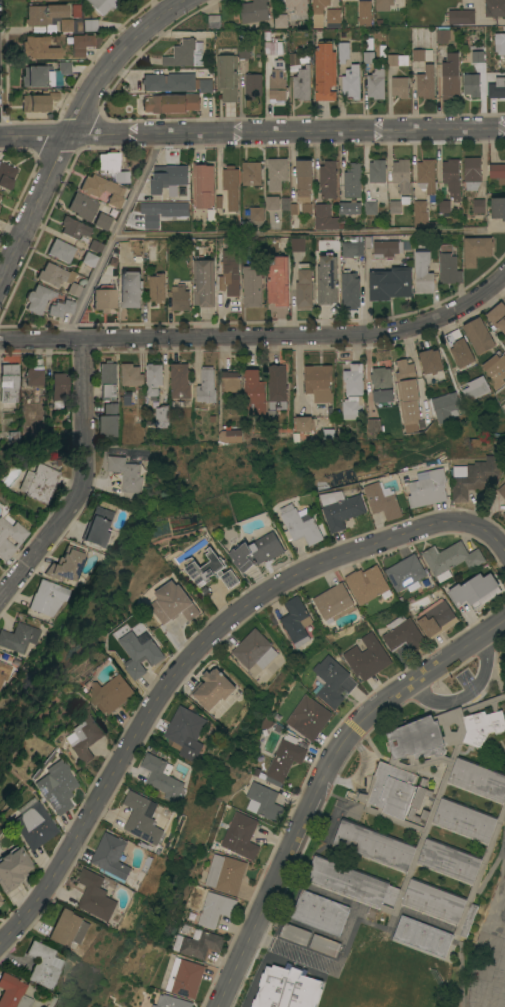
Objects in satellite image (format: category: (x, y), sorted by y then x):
building: (100, 4)
building: (382, 5)
building: (296, 6)
building: (494, 7)
building: (253, 10)
building: (74, 11)
building: (318, 11)
building: (363, 12)
building: (43, 13)
building: (279, 14)
building: (461, 16)
building: (333, 17)
building: (213, 20)
building: (89, 24)
building: (64, 25)
building: (445, 35)
building: (499, 42)
building: (79, 43)
building: (273, 46)
building: (38, 47)
building: (244, 50)
building: (342, 51)
building: (185, 54)
building: (421, 55)
building: (367, 56)
building: (476, 56)
building: (293, 58)
building: (391, 61)
building: (62, 68)
building: (324, 71)
building: (35, 75)
building: (226, 76)
building: (449, 76)
building: (168, 81)
building: (277, 81)
building: (425, 81)
building: (350, 82)
building: (301, 83)
building: (375, 83)
building: (471, 84)
building: (205, 85)
building: (252, 85)
building: (399, 86)
building: (496, 87)
building: (37, 101)
building: (170, 102)
road: (72, 121)
road: (252, 132)
building: (111, 165)
building: (376, 170)
building: (250, 172)
building: (471, 172)
building: (497, 172)
building: (276, 173)
building: (5, 175)
building: (401, 175)
building: (451, 177)
building: (168, 178)
building: (426, 178)
building: (327, 179)
building: (352, 180)
building: (202, 184)
building: (230, 185)
building: (302, 187)
building: (101, 188)
building: (272, 202)
building: (397, 204)
building: (81, 205)
building: (443, 205)
building: (477, 205)
building: (349, 206)
building: (370, 207)
building: (498, 207)
building: (159, 211)
building: (256, 213)
building: (419, 213)
building: (324, 217)
building: (101, 220)
building: (73, 227)
road: (309, 232)
road: (112, 236)
building: (296, 242)
building: (95, 246)
building: (386, 247)
building: (351, 248)
building: (475, 249)
building: (60, 250)
building: (88, 258)
building: (448, 265)
building: (422, 271)
building: (229, 272)
building: (53, 274)
building: (326, 278)
building: (277, 280)
building: (203, 281)
building: (389, 282)
building: (252, 285)
building: (303, 286)
building: (156, 287)
building: (73, 288)
building: (130, 288)
building: (349, 290)
building: (179, 297)
building: (37, 298)
building: (103, 299)
building: (60, 307)
building: (497, 316)
building: (478, 335)
road: (261, 337)
building: (459, 350)
building: (430, 360)
building: (495, 367)
building: (130, 374)
building: (33, 375)
building: (107, 378)
building: (153, 378)
building: (316, 378)
building: (179, 380)
building: (353, 380)
building: (8, 381)
building: (229, 381)
building: (381, 383)
building: (205, 385)
building: (276, 386)
building: (476, 388)
building: (58, 390)
building: (253, 390)
building: (406, 391)
building: (445, 406)
building: (351, 407)
building: (161, 416)
building: (107, 420)
building: (303, 423)
building: (373, 425)
building: (229, 435)
building: (125, 473)
building: (474, 476)
building: (37, 482)
road: (82, 484)
building: (427, 489)
building: (501, 489)
building: (382, 501)
building: (340, 508)
building: (504, 514)
building: (299, 525)
building: (98, 526)
building: (9, 537)
building: (256, 551)
building: (450, 558)
building: (65, 564)
building: (210, 569)
building: (405, 573)
building: (367, 583)
building: (474, 589)
building: (47, 597)
building: (333, 602)
building: (172, 603)
building: (435, 617)
building: (295, 620)
building: (402, 633)
building: (18, 636)
road: (199, 644)
building: (253, 649)
building: (139, 651)
building: (366, 657)
building: (1, 666)
building: (331, 681)
building: (212, 688)
road: (466, 690)
building: (110, 693)
building: (309, 717)
building: (186, 732)
building: (82, 735)
building: (284, 758)
building: (161, 775)
road: (321, 778)
building: (53, 787)
building: (265, 800)
building: (418, 801)
building: (458, 816)
building: (142, 817)
building: (30, 825)
building: (240, 835)
building: (111, 856)
building: (10, 867)
building: (224, 873)
building: (95, 894)
building: (0, 907)
building: (215, 908)
building: (319, 911)
building: (67, 928)
building: (294, 934)
building: (422, 935)
building: (198, 943)
building: (322, 945)
building: (40, 964)
building: (184, 977)
building: (289, 982)
building: (11, 992)
building: (278, 1000)
building: (170, 1001)

